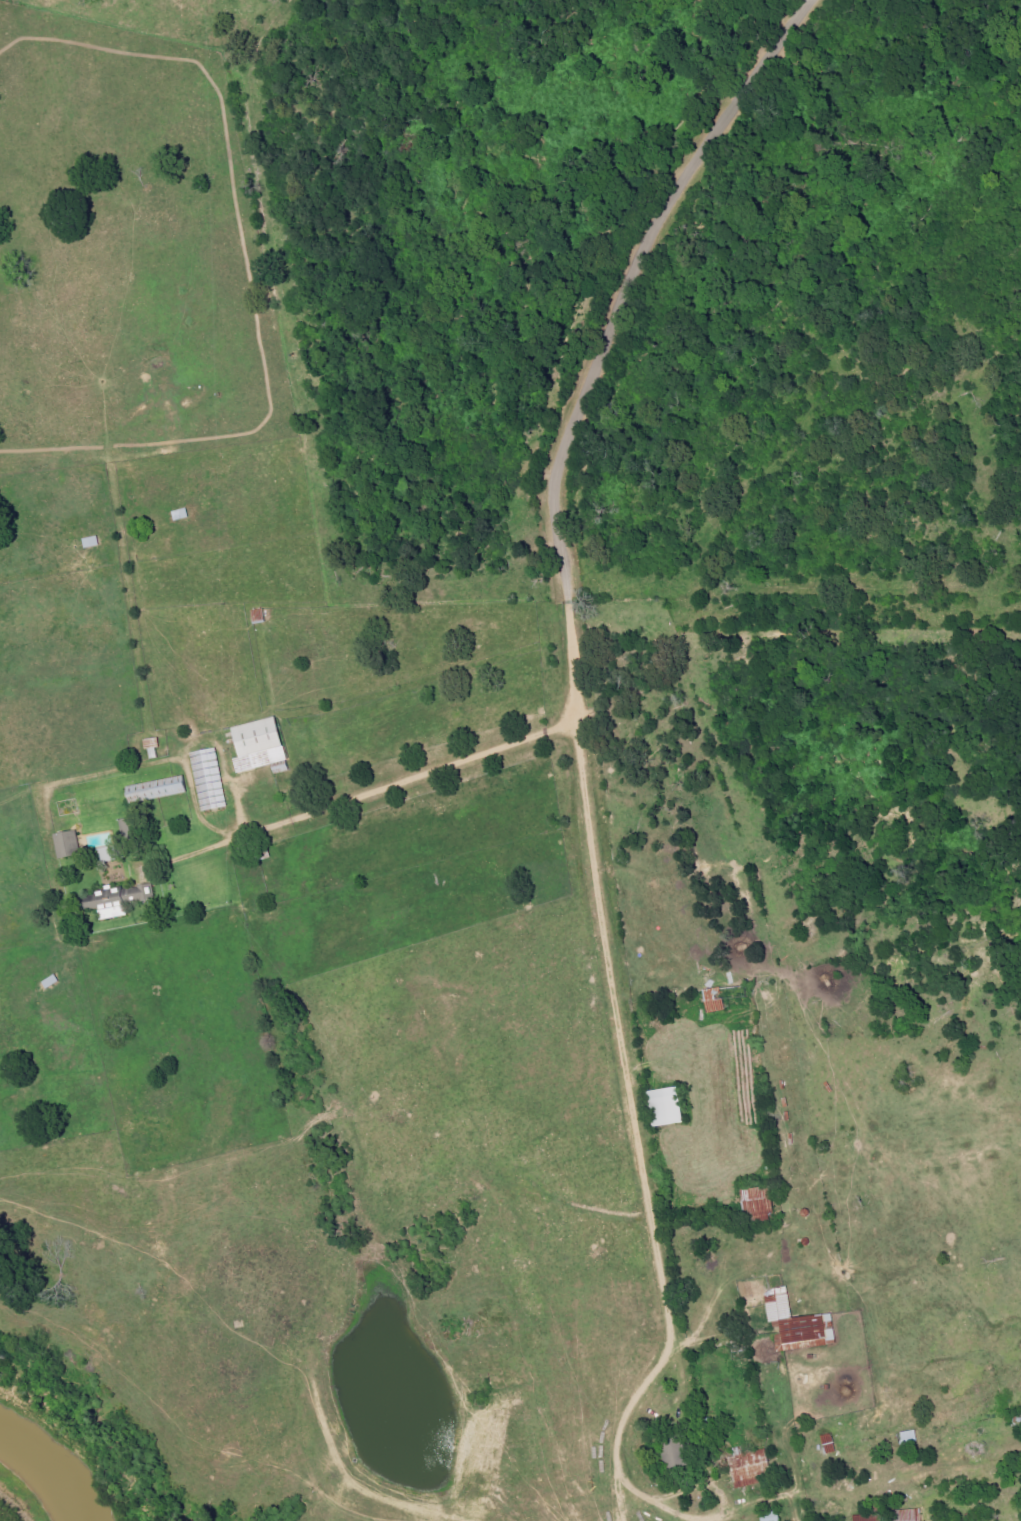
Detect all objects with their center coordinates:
road: (598, 336)
road: (587, 740)
building: (262, 746)
building: (210, 779)
building: (158, 789)
building: (69, 844)
building: (112, 853)
building: (717, 1000)
building: (668, 1106)
building: (798, 1320)
building: (751, 1467)
building: (772, 1516)
building: (871, 1518)

